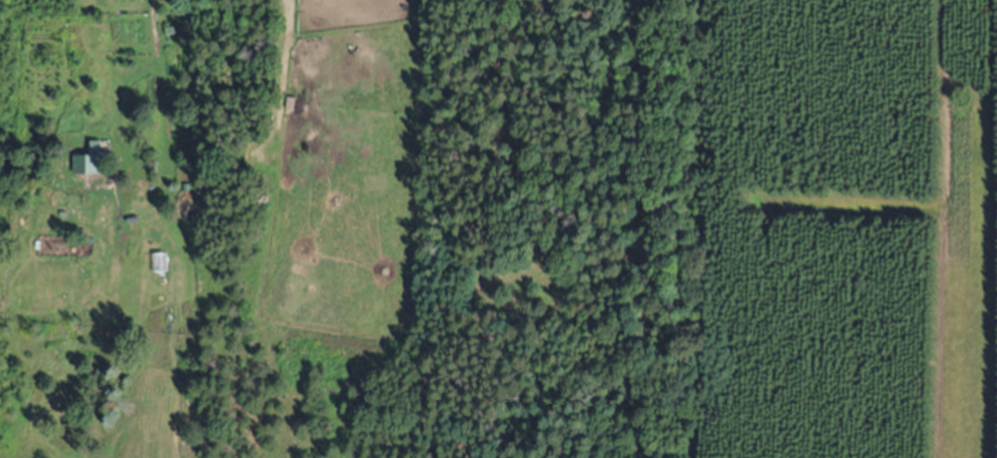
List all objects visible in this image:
building: (87, 163)

